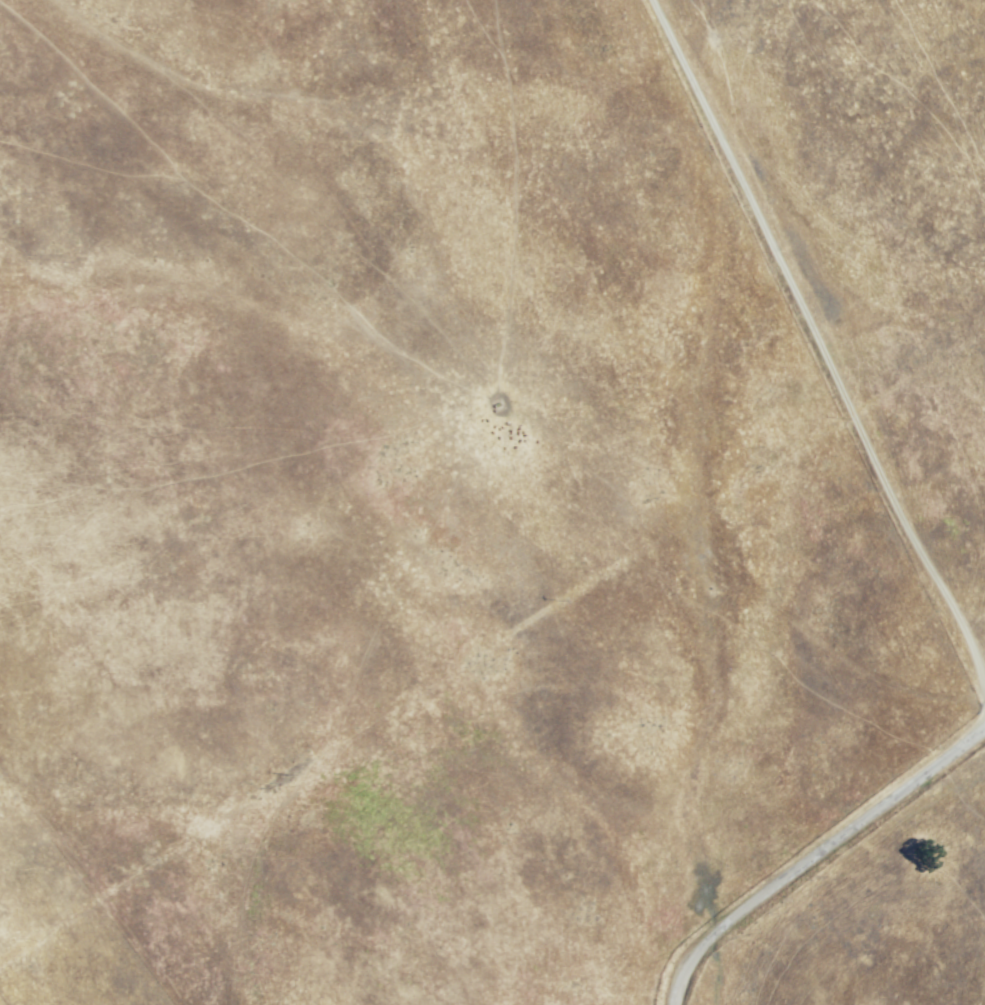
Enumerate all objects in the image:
road: (819, 344)
road: (741, 580)
road: (812, 854)

